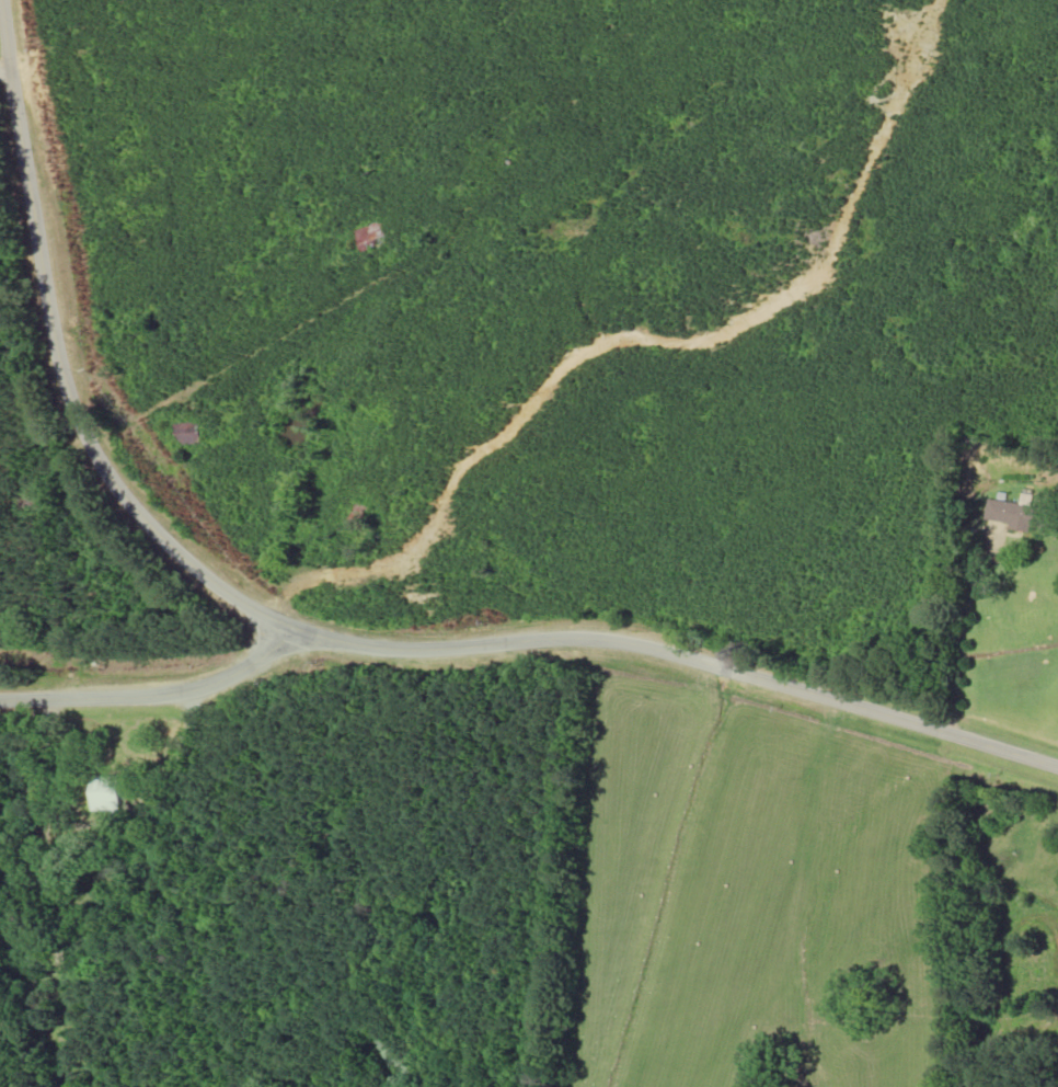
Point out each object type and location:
road: (12, 179)
building: (1019, 515)
road: (343, 638)
road: (958, 638)
road: (156, 693)
building: (104, 792)

